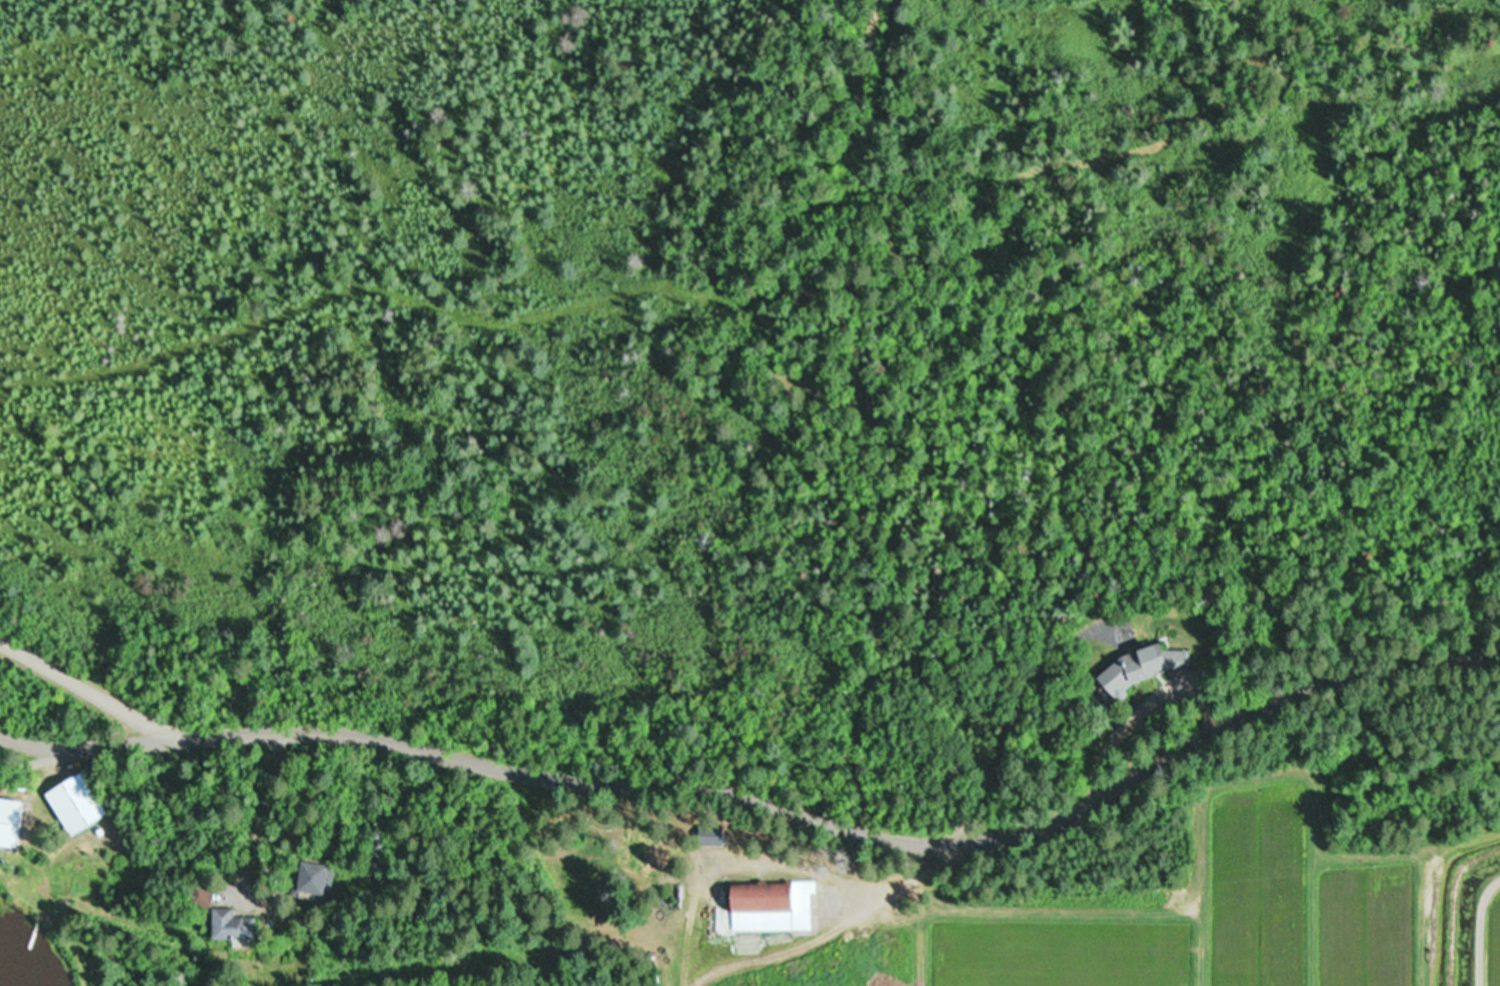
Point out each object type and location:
building: (1141, 667)
road: (1180, 738)
road: (480, 761)
building: (708, 835)
building: (637, 852)
building: (313, 879)
road: (1159, 901)
building: (769, 907)
crop: (1242, 909)
building: (229, 925)

